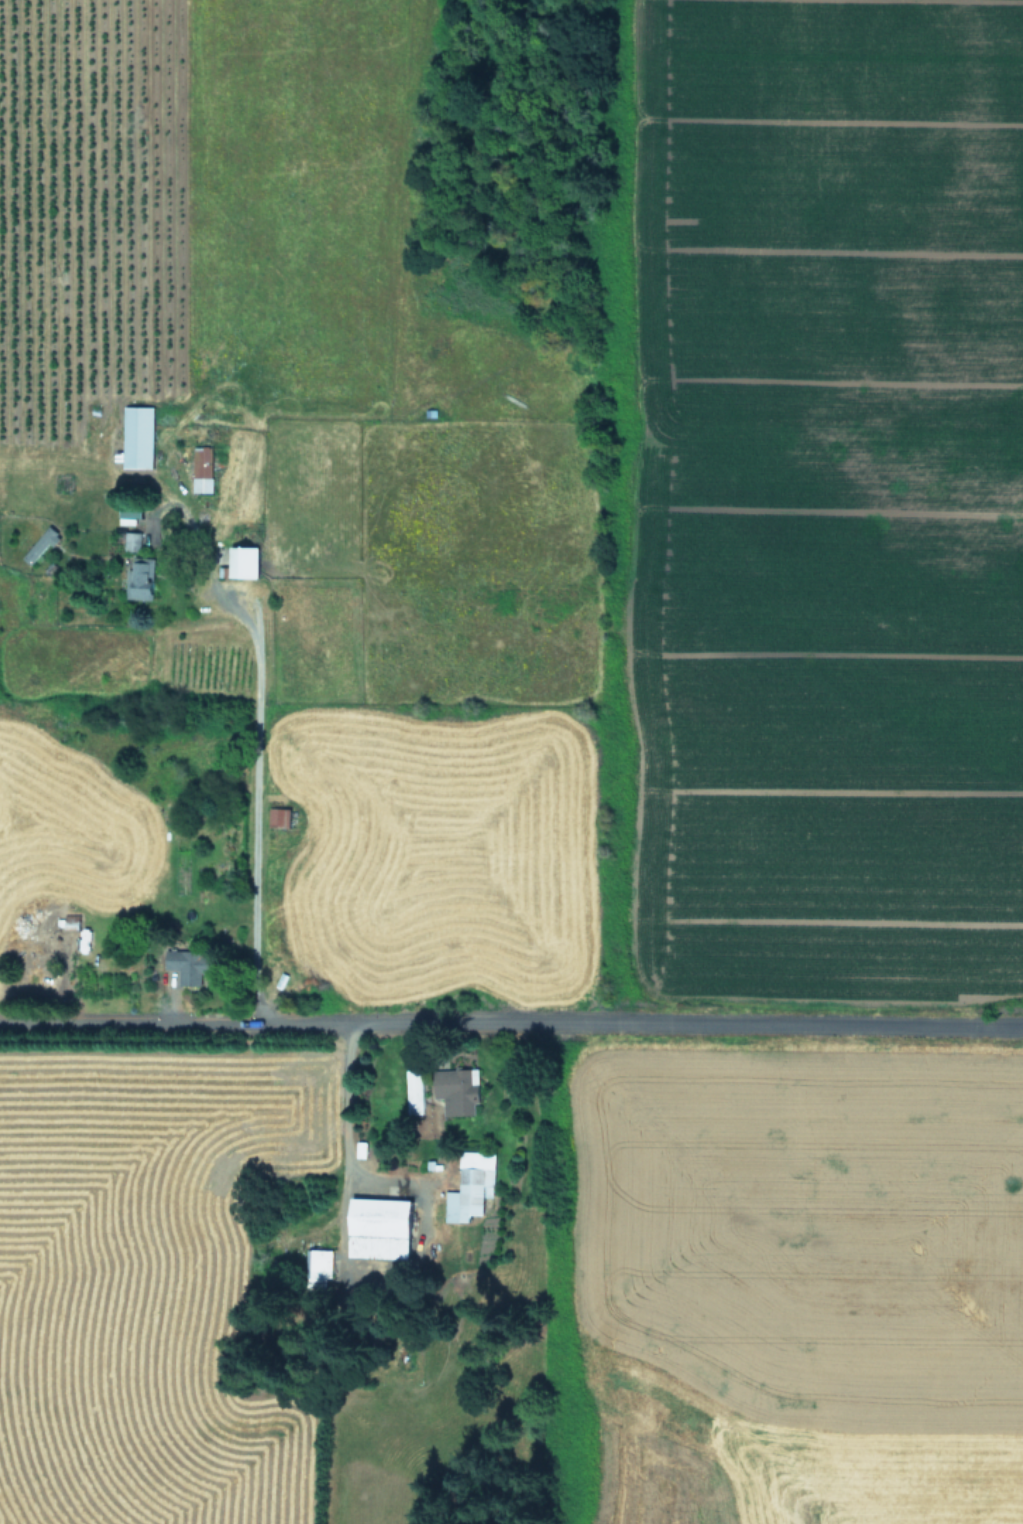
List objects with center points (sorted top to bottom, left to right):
building: (140, 436)
building: (204, 469)
building: (133, 540)
building: (43, 544)
building: (249, 561)
building: (143, 580)
crop: (511, 762)
road: (255, 793)
building: (281, 817)
building: (192, 965)
road: (511, 1013)
building: (453, 1089)
building: (468, 1185)
building: (374, 1226)
road: (339, 1245)
building: (318, 1262)

